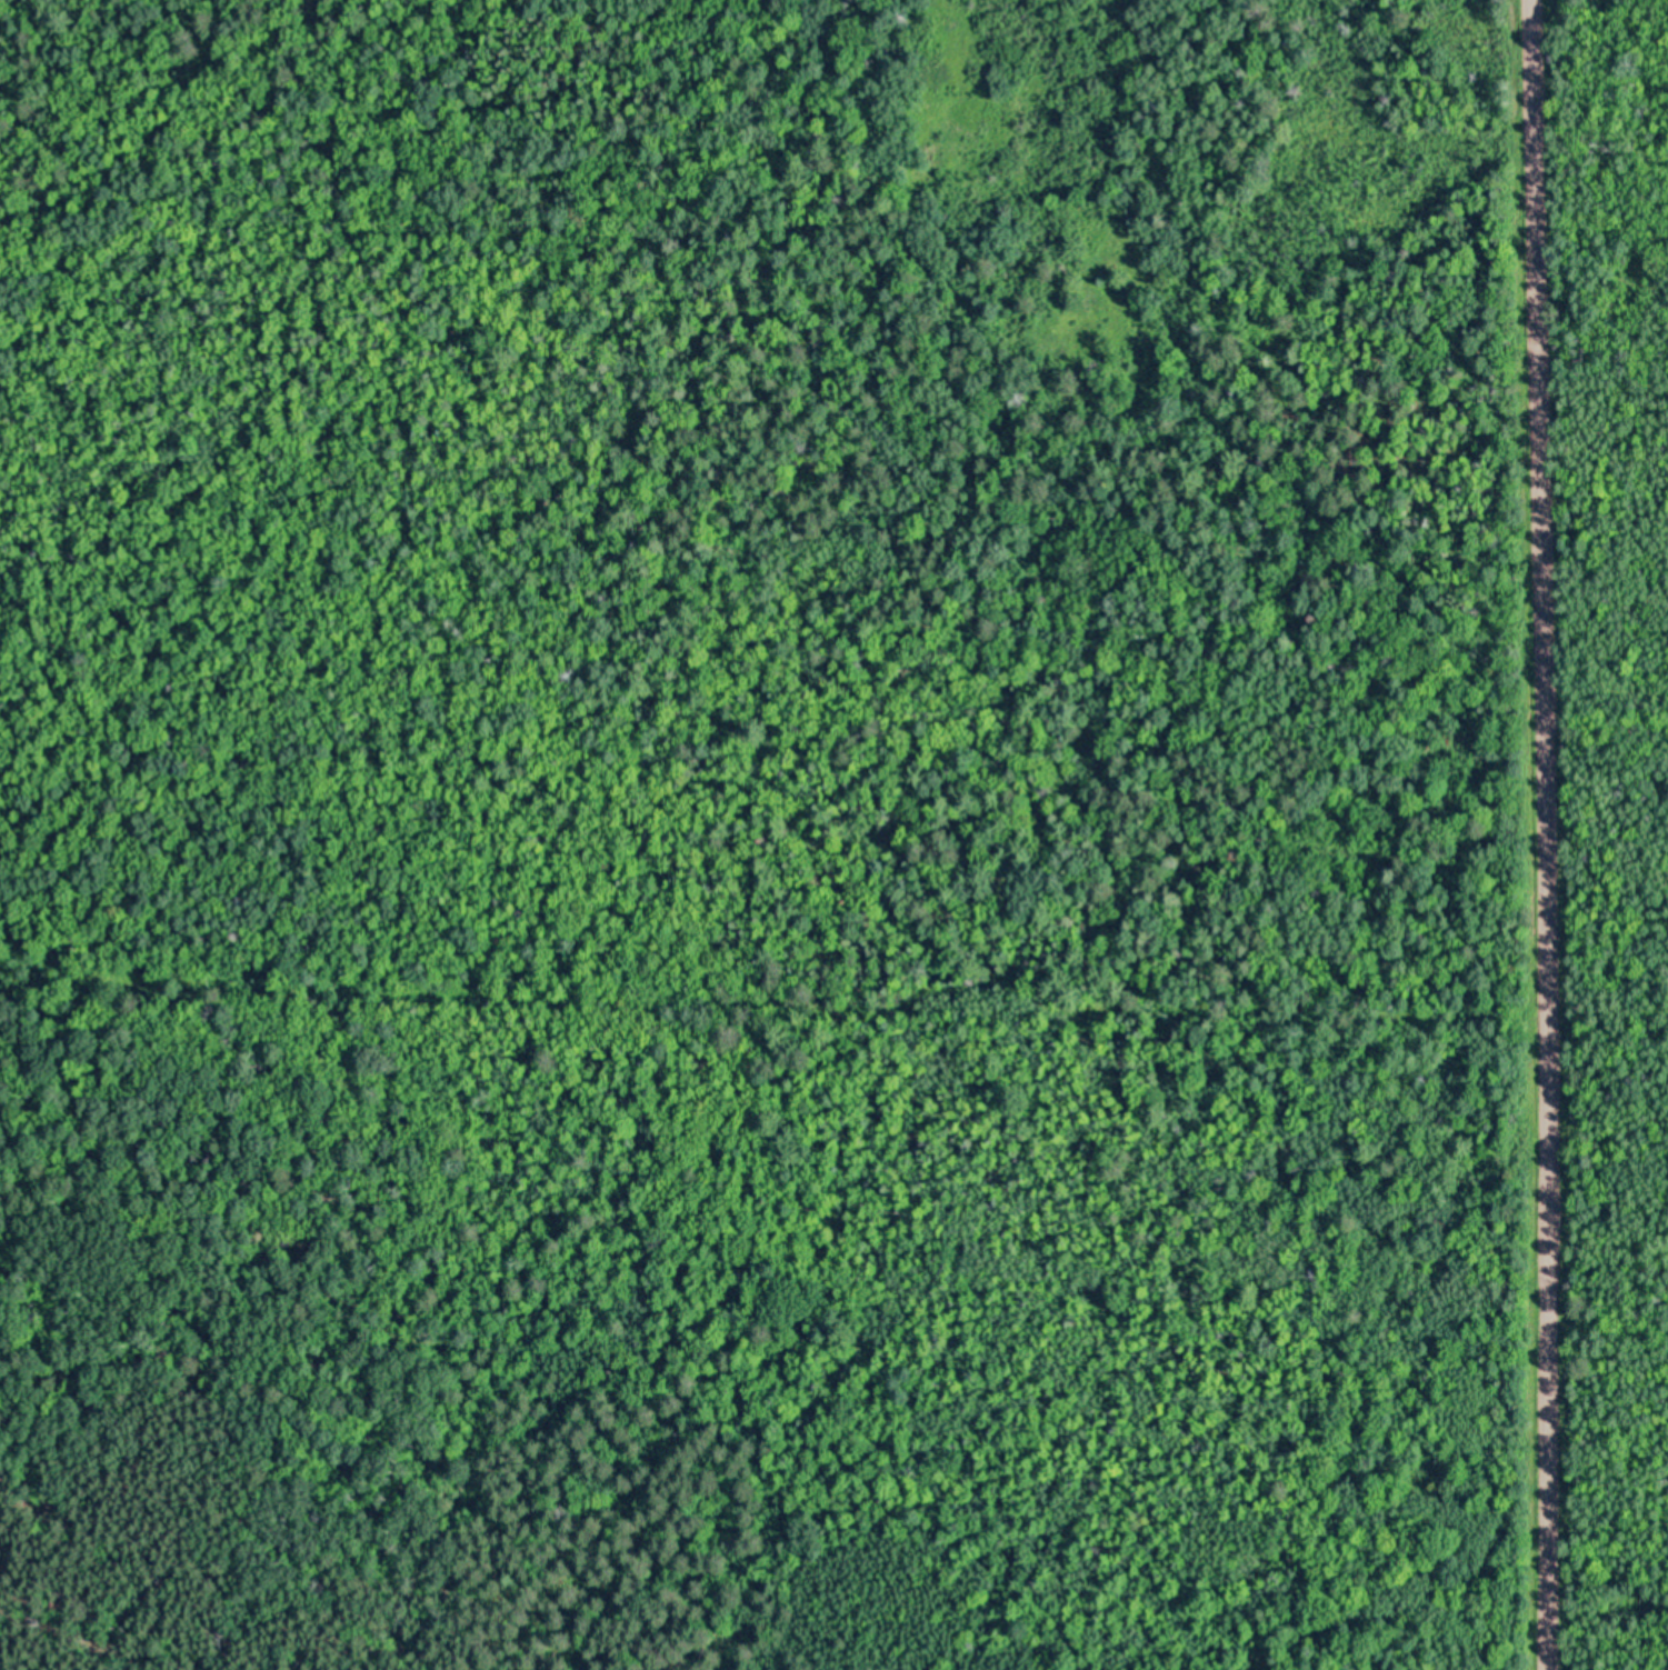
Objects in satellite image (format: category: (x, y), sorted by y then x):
road: (1535, 834)

